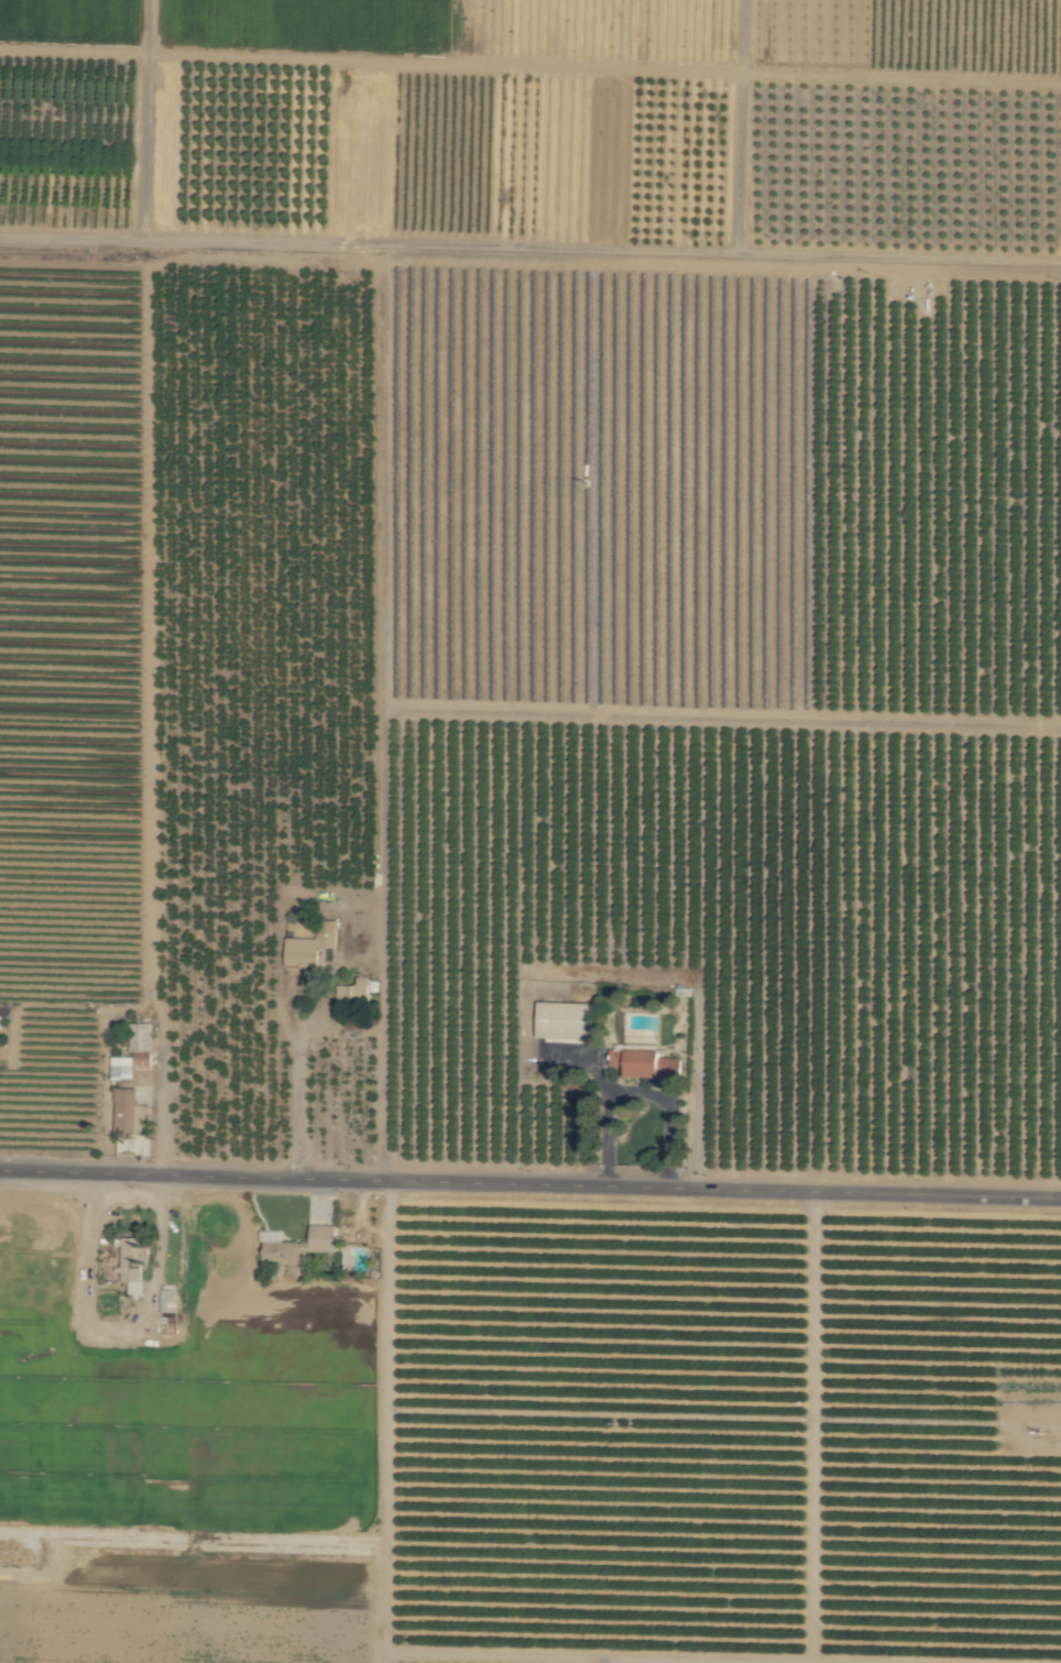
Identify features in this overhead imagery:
crop: (530, 831)
building: (310, 945)
building: (353, 991)
building: (565, 1019)
building: (141, 1043)
building: (643, 1062)
building: (122, 1071)
road: (635, 1093)
road: (302, 1099)
building: (130, 1113)
road: (437, 1175)
road: (967, 1195)
building: (298, 1248)
building: (132, 1263)
building: (167, 1300)
road: (119, 1322)

